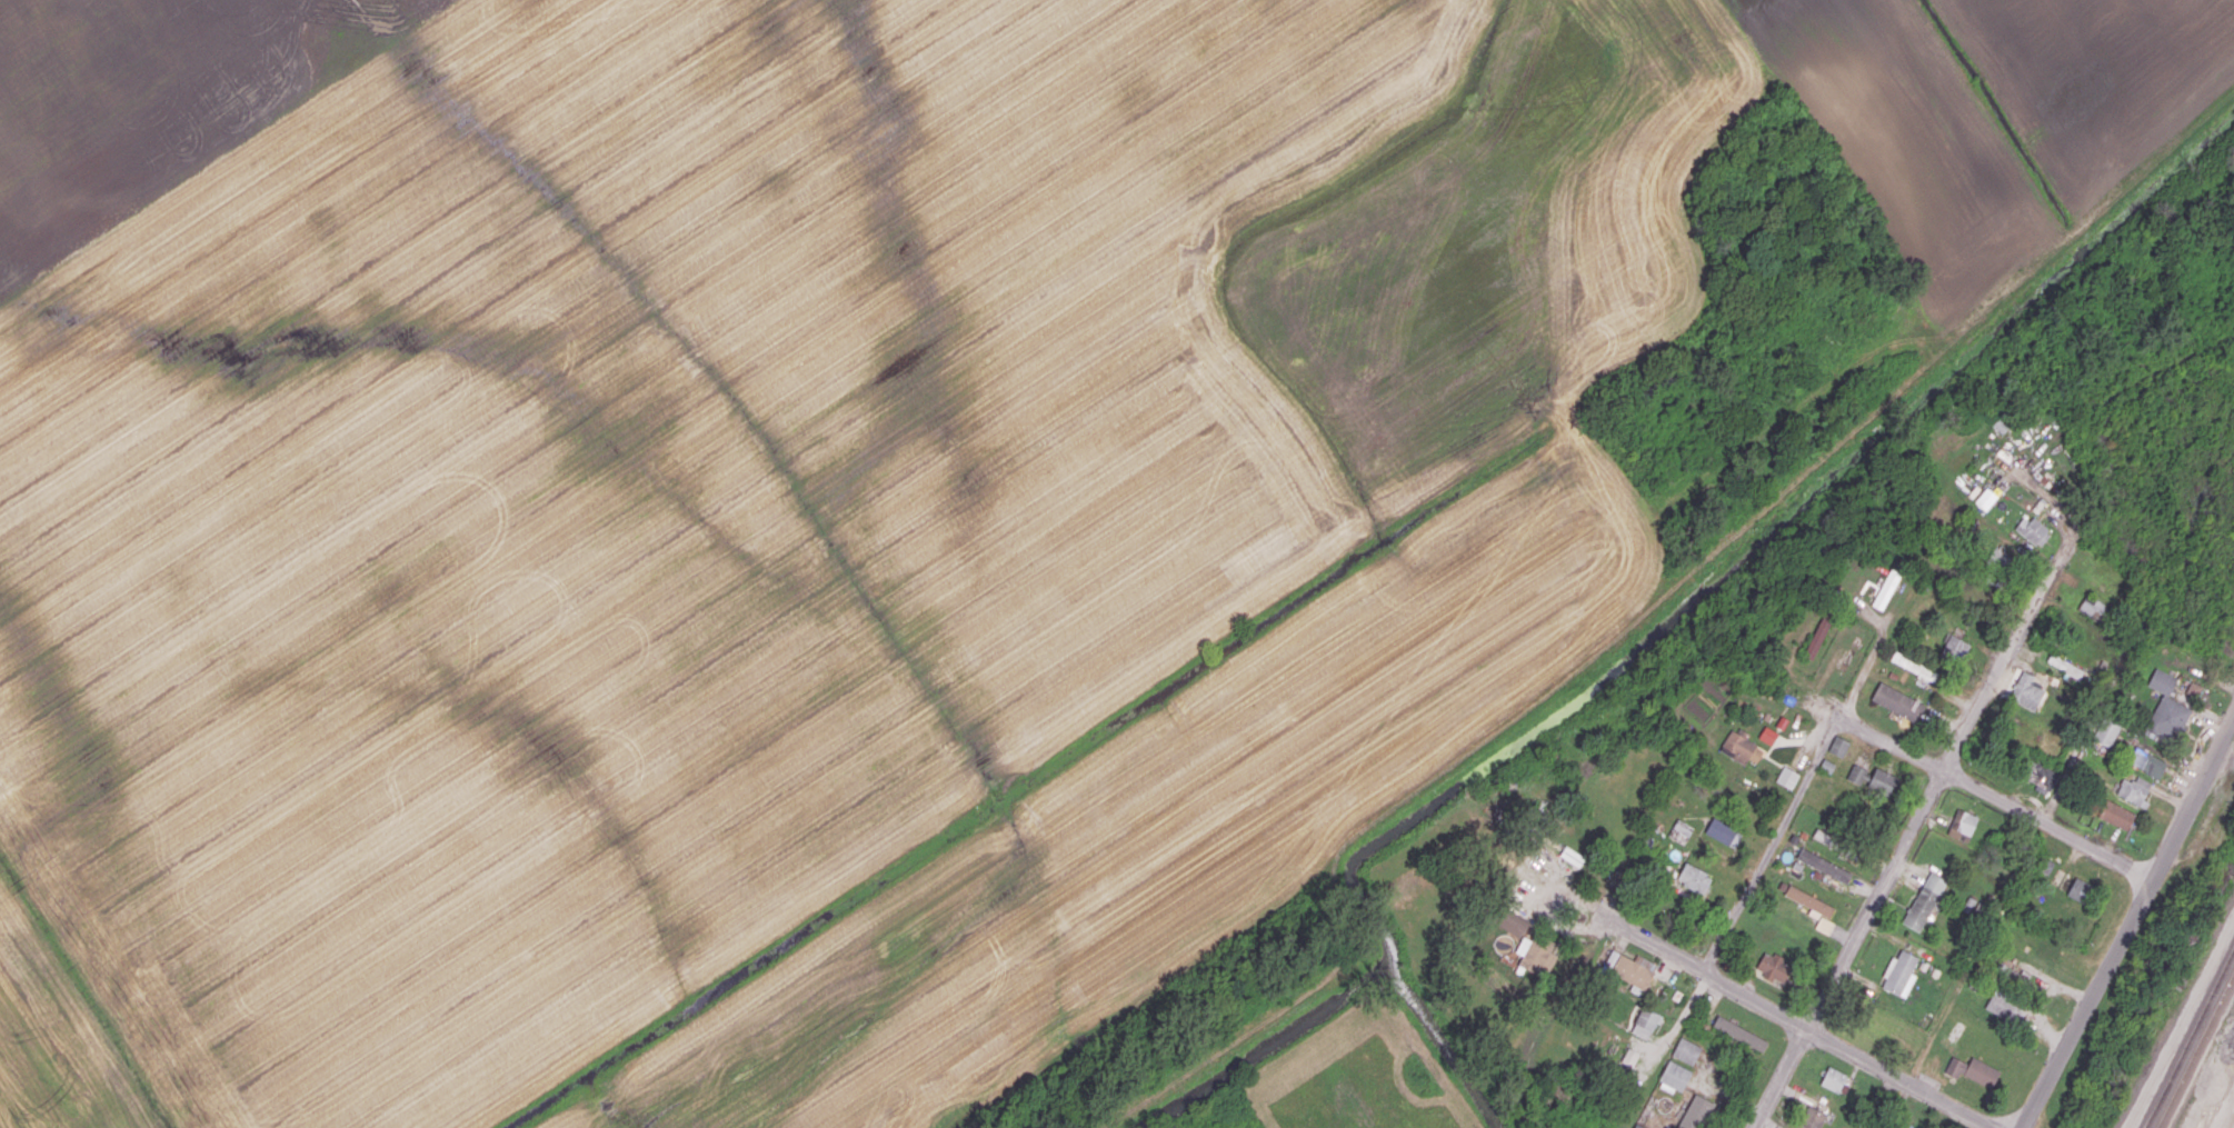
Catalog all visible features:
crop: (829, 489)
road: (2070, 516)
building: (1886, 589)
building: (2094, 609)
building: (1817, 635)
building: (1953, 648)
road: (1866, 662)
building: (2065, 666)
building: (1915, 668)
building: (2162, 681)
building: (2026, 691)
building: (1897, 701)
building: (2167, 719)
building: (2106, 732)
building: (1767, 735)
building: (1838, 746)
building: (1742, 747)
building: (2146, 762)
building: (1856, 772)
building: (2041, 775)
building: (1787, 777)
building: (1882, 781)
road: (1969, 783)
building: (2134, 789)
building: (2116, 815)
building: (1962, 825)
building: (1723, 832)
road: (1916, 838)
building: (1828, 840)
building: (1572, 856)
building: (1824, 865)
building: (1693, 878)
road: (1759, 878)
building: (2081, 890)
building: (1808, 900)
building: (1924, 901)
building: (1512, 921)
road: (2130, 924)
building: (1824, 925)
building: (1535, 954)
building: (1773, 966)
building: (1629, 968)
building: (1899, 974)
building: (2005, 1007)
road: (1586, 1011)
road: (1775, 1012)
building: (1645, 1022)
building: (1739, 1034)
railway: (2190, 1037)
building: (1686, 1050)
railway: (2196, 1051)
building: (1629, 1057)
building: (1973, 1070)
building: (1674, 1077)
building: (1833, 1079)
road: (1771, 1111)
building: (1695, 1112)
building: (1812, 1118)
building: (1637, 1126)

